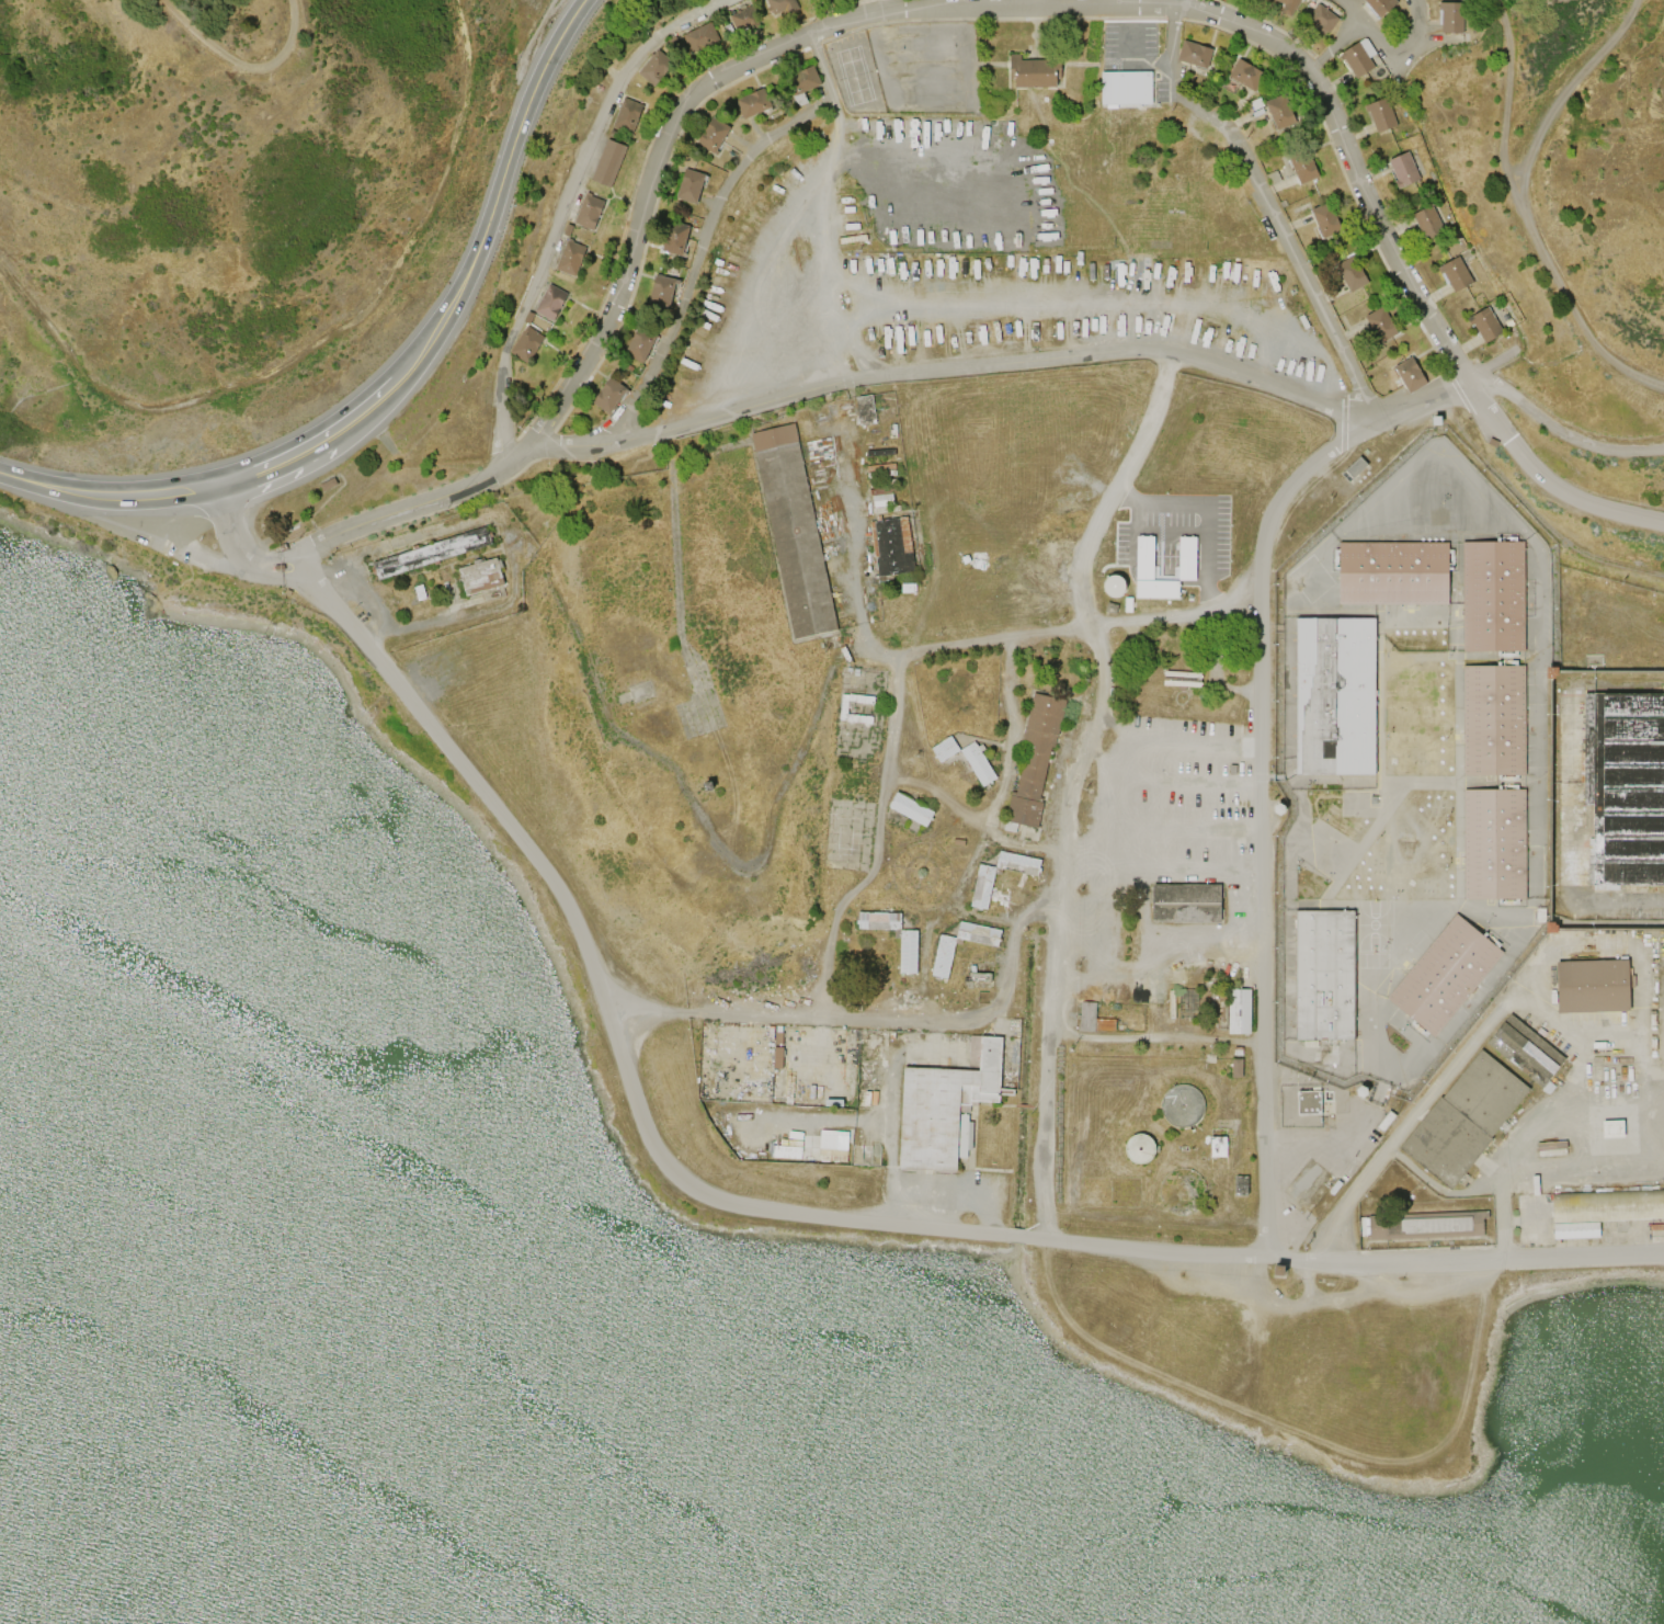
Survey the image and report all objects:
road: (1040, 4)
building: (780, 5)
road: (886, 5)
building: (1379, 5)
building: (1288, 7)
road: (965, 9)
building: (1450, 15)
building: (745, 16)
building: (1322, 19)
building: (699, 37)
building: (1195, 54)
building: (1358, 57)
road: (1392, 57)
road: (1130, 61)
road: (255, 67)
building: (654, 67)
building: (1032, 71)
building: (1246, 75)
building: (801, 83)
building: (1125, 88)
building: (753, 103)
building: (1280, 112)
road: (1506, 112)
building: (1381, 114)
building: (627, 115)
building: (713, 134)
building: (607, 162)
building: (1302, 166)
building: (1403, 169)
building: (691, 185)
road: (1267, 203)
road: (563, 206)
road: (1523, 206)
building: (588, 209)
building: (1325, 219)
building: (1427, 223)
road: (705, 232)
building: (675, 238)
road: (773, 245)
building: (569, 257)
building: (1456, 273)
building: (1352, 274)
building: (662, 291)
building: (550, 302)
road: (966, 308)
building: (1485, 323)
building: (1380, 325)
building: (526, 343)
building: (640, 344)
road: (322, 347)
road: (858, 352)
road: (955, 370)
building: (1410, 375)
road: (394, 379)
building: (609, 395)
building: (864, 410)
building: (1436, 421)
building: (1492, 442)
building: (1354, 469)
road: (220, 498)
building: (886, 499)
road: (1205, 508)
building: (793, 531)
building: (282, 547)
building: (890, 548)
road: (240, 553)
building: (430, 553)
building: (1186, 557)
building: (277, 567)
building: (1150, 573)
building: (1391, 573)
building: (479, 576)
building: (1113, 584)
building: (286, 592)
road: (855, 593)
building: (1494, 598)
road: (1082, 627)
road: (1261, 657)
building: (1181, 679)
building: (1336, 695)
building: (842, 711)
building: (1493, 722)
building: (944, 749)
building: (1035, 759)
building: (977, 763)
building: (1232, 769)
road: (1000, 773)
road: (1074, 784)
building: (1623, 784)
building: (910, 809)
building: (1278, 809)
building: (1493, 843)
road: (877, 850)
building: (1017, 863)
building: (982, 886)
building: (1186, 902)
building: (878, 920)
park: (1377, 925)
building: (978, 933)
building: (908, 951)
building: (943, 956)
road: (1156, 970)
building: (1322, 975)
building: (1443, 976)
building: (1593, 986)
building: (1239, 1011)
building: (1086, 1015)
road: (870, 1024)
building: (1104, 1024)
building: (777, 1037)
building: (1525, 1053)
building: (777, 1057)
building: (1236, 1067)
building: (1308, 1102)
building: (945, 1104)
building: (1182, 1105)
storage tank: (1182, 1105)
building: (1463, 1120)
building: (1611, 1129)
road: (649, 1136)
road: (1400, 1136)
building: (832, 1145)
building: (1218, 1145)
building: (1139, 1148)
storage tank: (1139, 1148)
building: (1550, 1149)
building: (1241, 1185)
building: (1607, 1207)
building: (1426, 1226)
road: (1481, 1261)
building: (1279, 1270)

